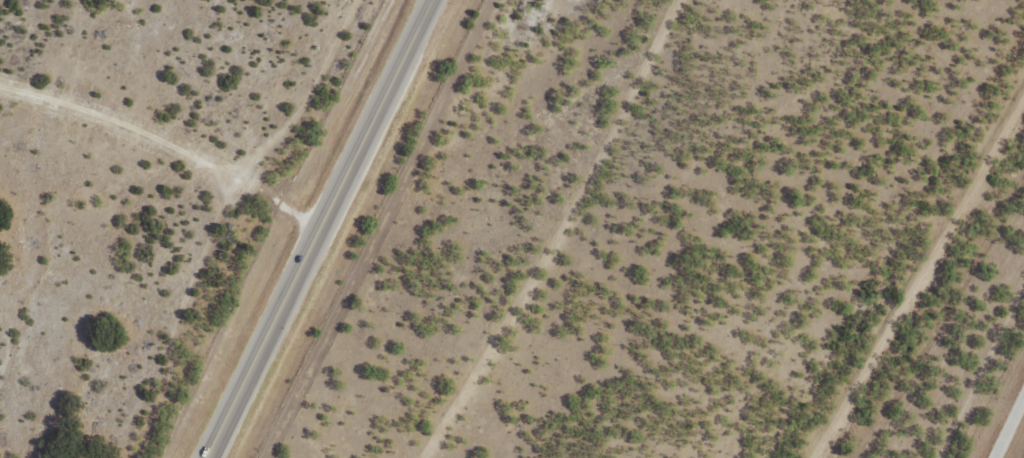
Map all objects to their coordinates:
road: (163, 166)
road: (324, 230)
railway: (935, 307)
road: (1011, 433)

